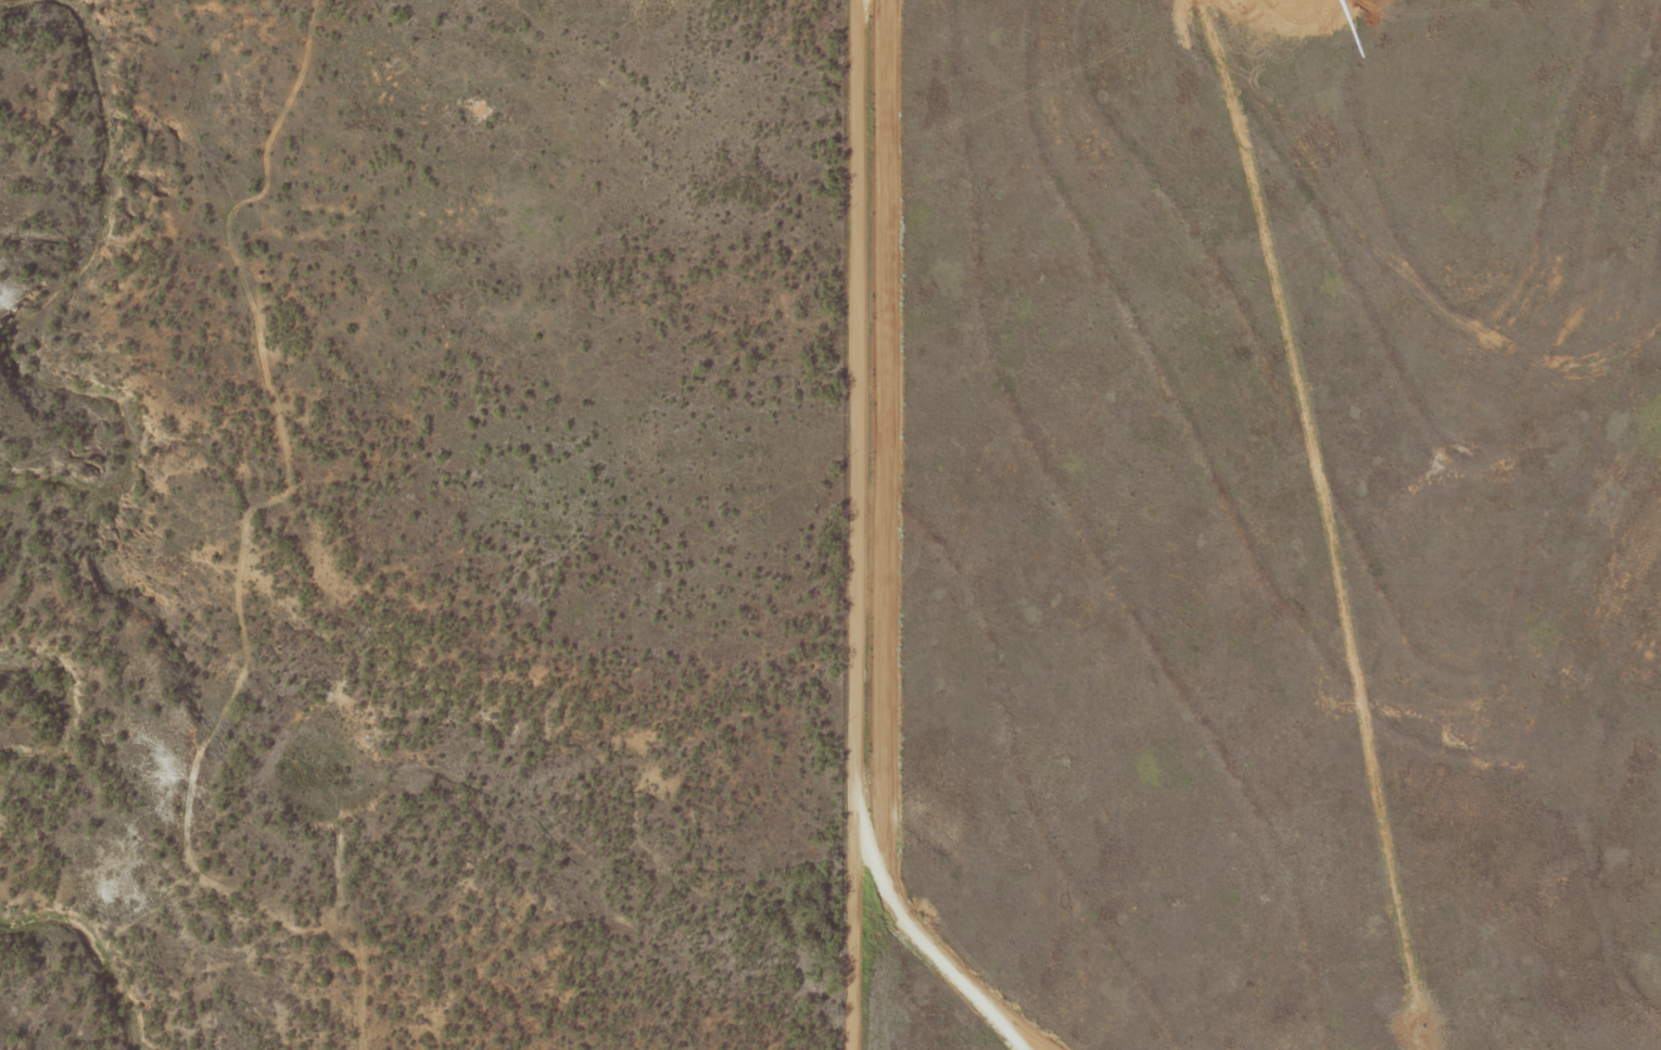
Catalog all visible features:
road: (903, 524)

